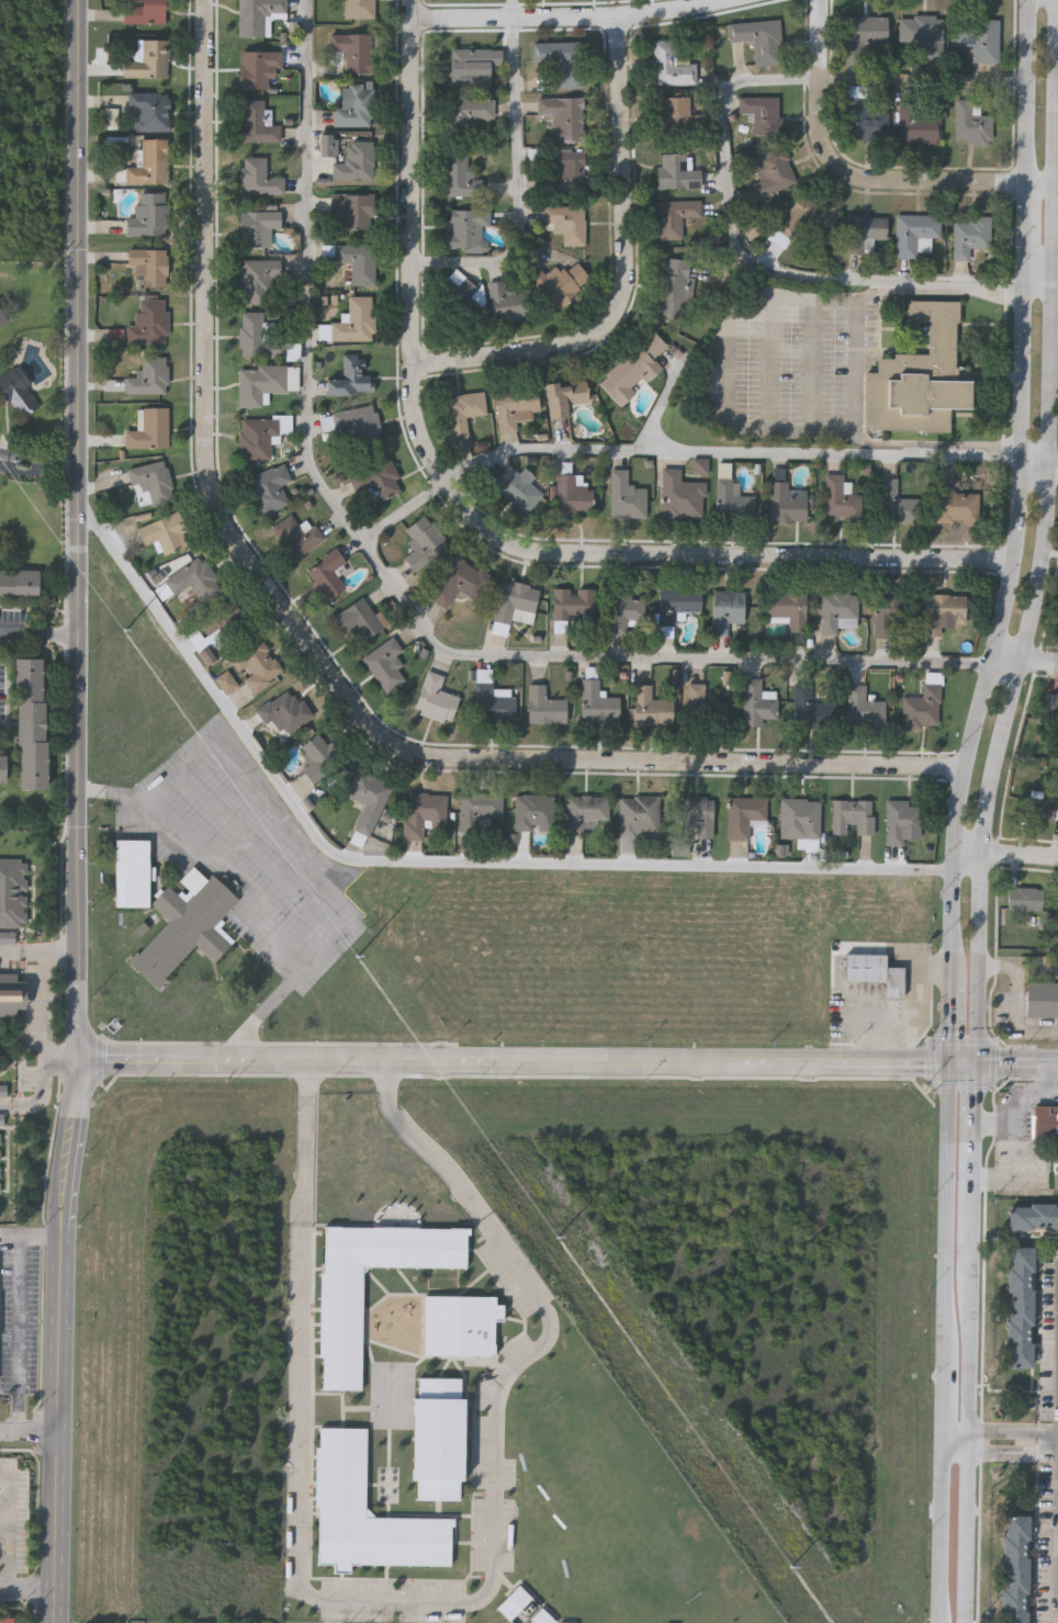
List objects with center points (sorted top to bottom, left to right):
road: (1045, 0)
building: (358, 8)
building: (144, 11)
building: (258, 15)
road: (574, 15)
building: (862, 35)
building: (920, 36)
building: (977, 36)
building: (758, 38)
building: (353, 50)
building: (148, 59)
building: (556, 61)
building: (669, 64)
building: (472, 65)
building: (256, 66)
road: (927, 80)
road: (1029, 100)
building: (353, 105)
building: (149, 109)
building: (468, 111)
building: (674, 112)
building: (761, 113)
building: (562, 116)
building: (865, 120)
building: (256, 122)
building: (916, 123)
building: (970, 123)
building: (354, 161)
building: (149, 162)
building: (565, 171)
building: (675, 171)
building: (773, 172)
building: (459, 174)
building: (257, 177)
road: (521, 177)
road: (862, 180)
building: (352, 211)
building: (148, 214)
building: (674, 217)
building: (802, 217)
building: (566, 223)
building: (256, 227)
building: (466, 229)
building: (863, 233)
building: (914, 233)
building: (969, 235)
road: (1026, 235)
building: (354, 261)
road: (761, 263)
building: (148, 264)
road: (1042, 269)
road: (628, 273)
building: (258, 281)
building: (560, 283)
building: (672, 286)
building: (461, 293)
building: (506, 302)
building: (2, 316)
building: (354, 320)
building: (2, 322)
building: (149, 322)
building: (257, 337)
building: (632, 368)
road: (857, 368)
building: (920, 374)
building: (149, 376)
building: (350, 377)
building: (260, 382)
building: (20, 390)
building: (563, 397)
building: (515, 406)
building: (462, 412)
building: (352, 427)
building: (149, 428)
building: (260, 433)
road: (682, 454)
road: (4, 458)
road: (44, 463)
road: (1039, 470)
building: (153, 480)
building: (378, 480)
building: (517, 486)
building: (268, 488)
building: (572, 494)
building: (680, 495)
building: (626, 496)
building: (840, 498)
building: (731, 500)
building: (787, 501)
building: (896, 503)
building: (957, 506)
road: (482, 521)
building: (164, 533)
building: (295, 534)
building: (423, 542)
road: (1043, 552)
building: (325, 575)
building: (20, 579)
building: (188, 581)
building: (460, 581)
road: (402, 593)
building: (676, 602)
building: (572, 604)
building: (514, 605)
building: (789, 607)
building: (725, 609)
building: (623, 610)
building: (837, 610)
building: (942, 610)
building: (893, 615)
building: (359, 618)
building: (224, 622)
power tower: (117, 625)
road: (1001, 629)
road: (25, 633)
road: (65, 636)
road: (327, 655)
road: (1026, 662)
building: (384, 663)
building: (256, 664)
building: (435, 698)
building: (492, 702)
building: (597, 702)
building: (757, 702)
building: (1051, 705)
building: (544, 706)
building: (704, 706)
building: (651, 707)
building: (922, 707)
building: (863, 708)
building: (283, 710)
building: (815, 712)
building: (32, 721)
building: (317, 757)
building: (3, 769)
building: (368, 798)
road: (277, 808)
building: (1037, 808)
building: (479, 809)
road: (78, 811)
building: (534, 811)
building: (586, 811)
building: (424, 813)
building: (639, 814)
building: (694, 814)
building: (744, 814)
building: (852, 815)
building: (800, 818)
building: (900, 820)
road: (1005, 853)
road: (428, 863)
building: (132, 872)
building: (13, 892)
building: (1024, 898)
road: (248, 903)
building: (185, 928)
power tower: (342, 940)
road: (48, 948)
road: (10, 951)
building: (865, 966)
building: (894, 980)
building: (11, 996)
road: (1016, 996)
building: (1042, 999)
road: (47, 1003)
road: (949, 1024)
road: (61, 1059)
traffic signals: (948, 1062)
road: (963, 1062)
traffic signals: (977, 1062)
road: (1016, 1062)
road: (511, 1063)
road: (42, 1091)
road: (1016, 1098)
road: (7, 1105)
building: (1045, 1122)
road: (309, 1143)
road: (423, 1146)
road: (975, 1162)
building: (0, 1164)
building: (1057, 1164)
road: (1016, 1168)
building: (1034, 1215)
road: (947, 1216)
road: (30, 1237)
power tower: (558, 1244)
building: (1021, 1305)
building: (460, 1322)
building: (342, 1327)
road: (20, 1333)
road: (945, 1406)
road: (1002, 1430)
road: (27, 1431)
road: (1048, 1431)
building: (438, 1436)
road: (957, 1441)
road: (969, 1443)
road: (1002, 1453)
road: (1048, 1453)
building: (340, 1476)
road: (11, 1529)
road: (943, 1532)
power tower: (784, 1564)
building: (1015, 1568)
road: (27, 1587)
road: (425, 1608)
building: (5, 1619)

